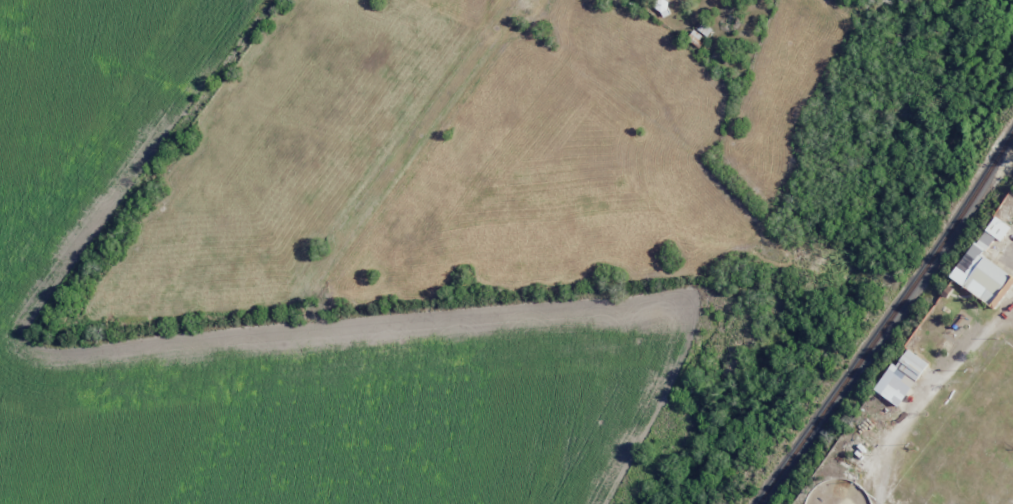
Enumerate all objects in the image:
building: (985, 266)
railway: (888, 319)
crop: (270, 322)

